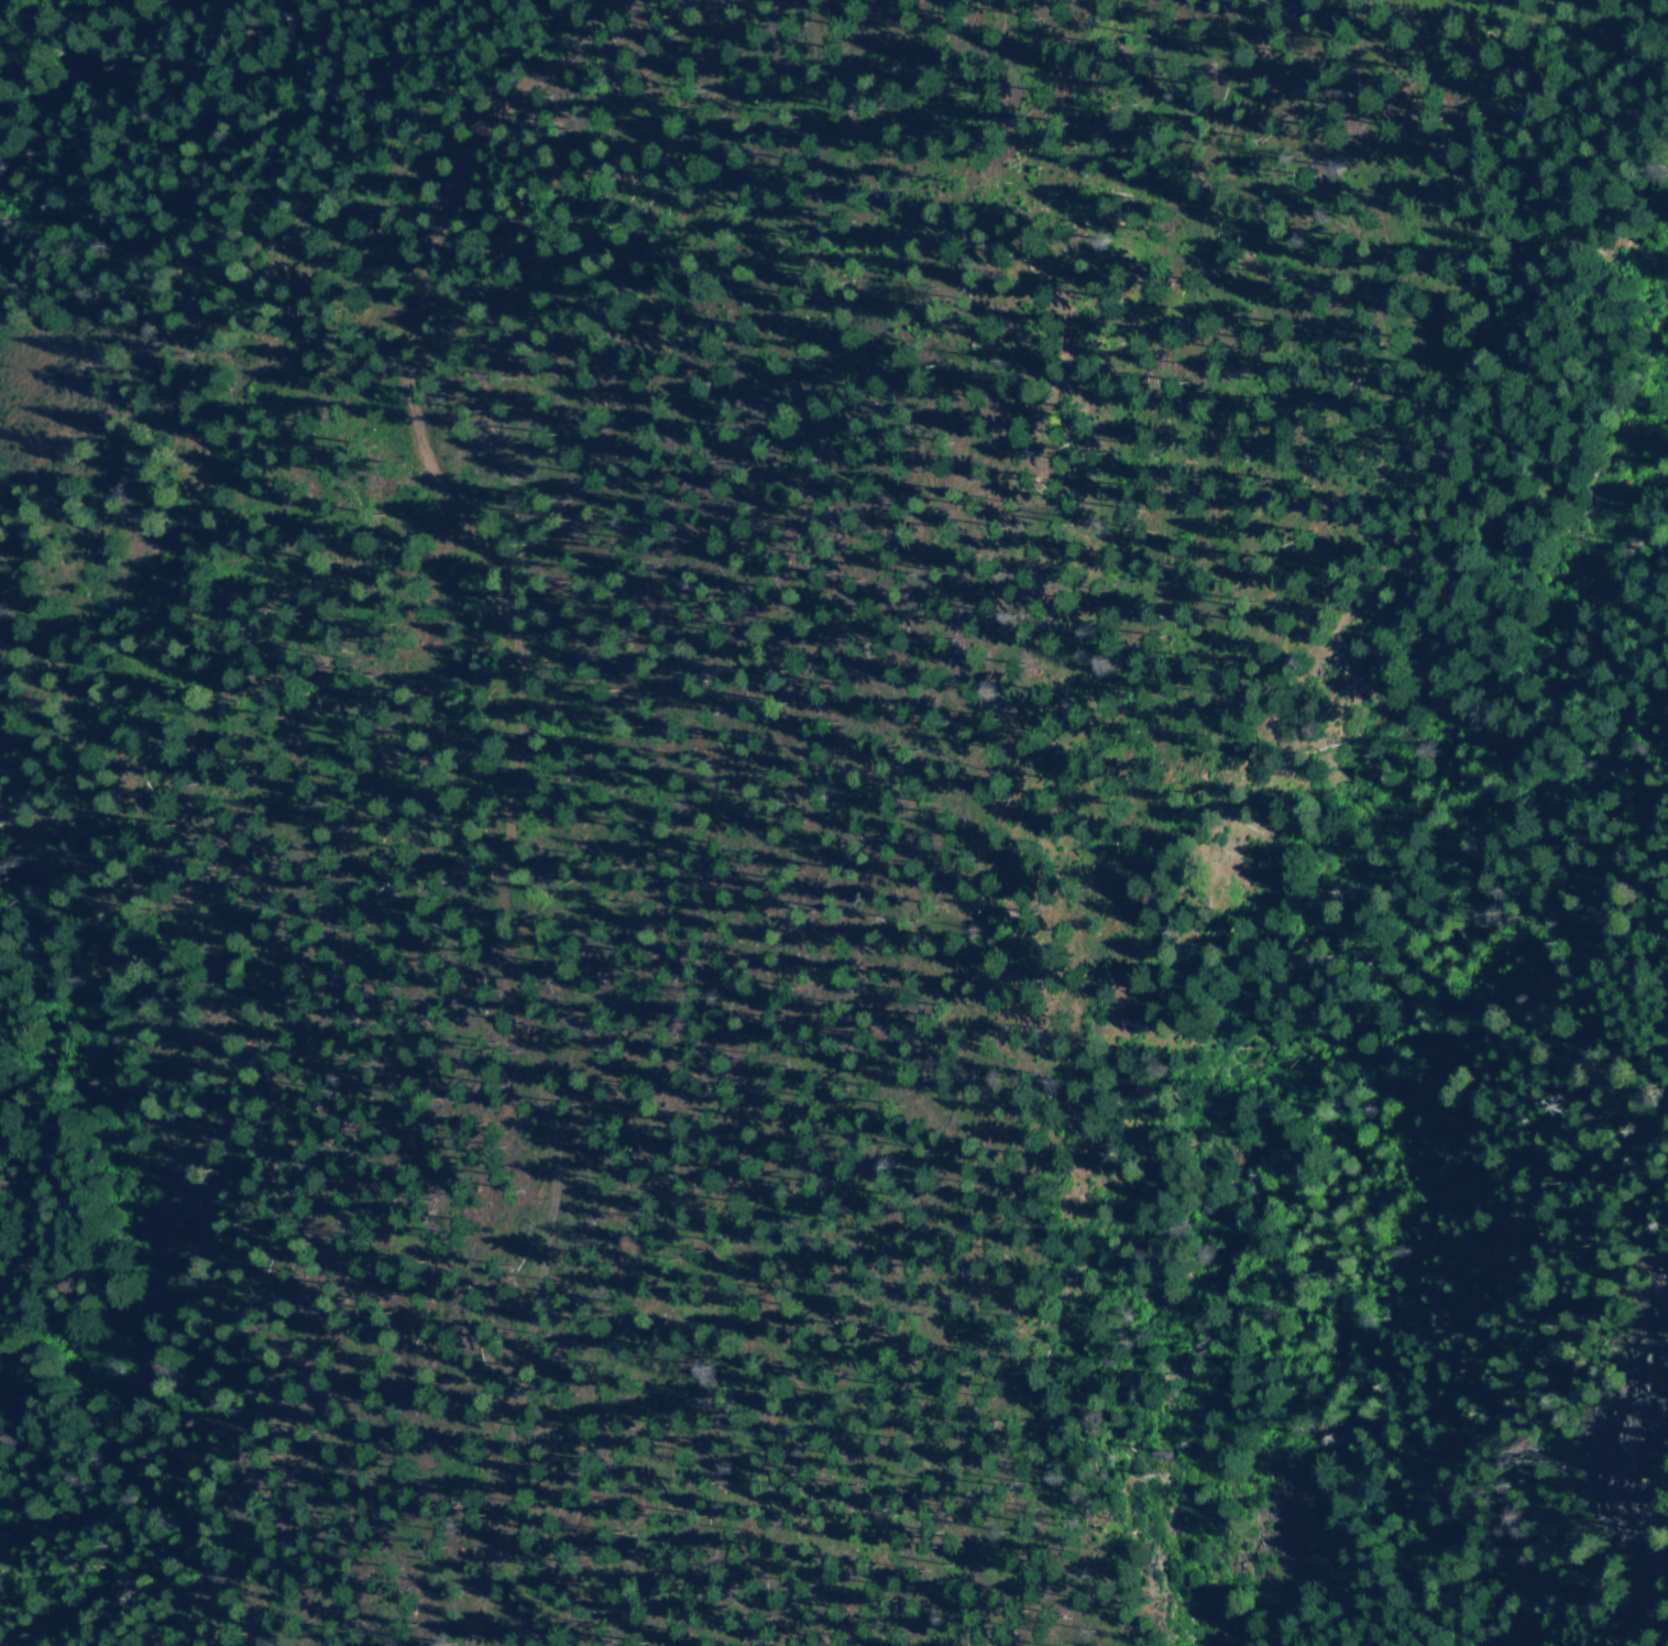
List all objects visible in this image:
road: (530, 772)

